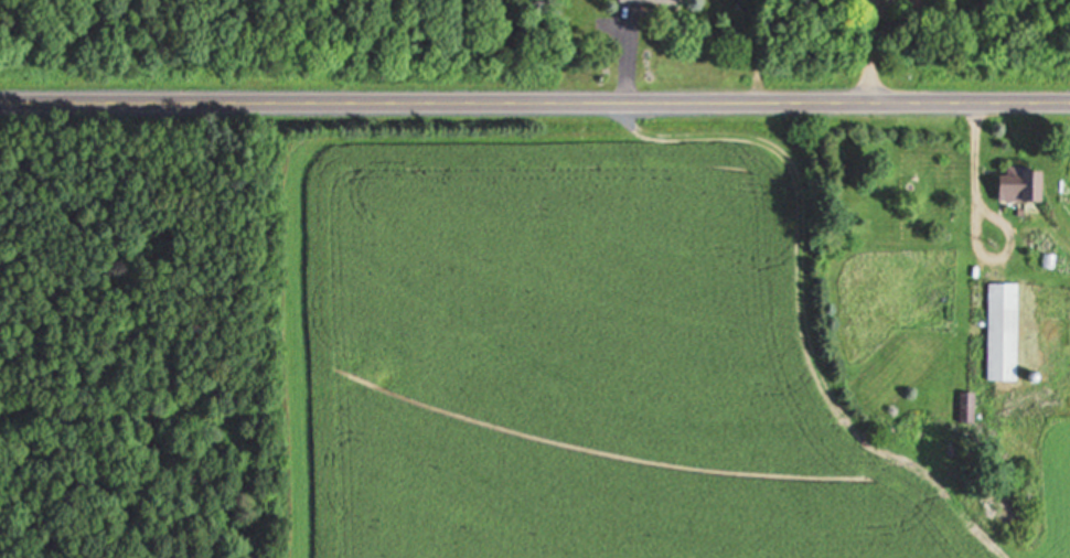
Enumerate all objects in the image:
building: (643, 2)
road: (535, 104)
building: (1015, 187)
building: (998, 334)

